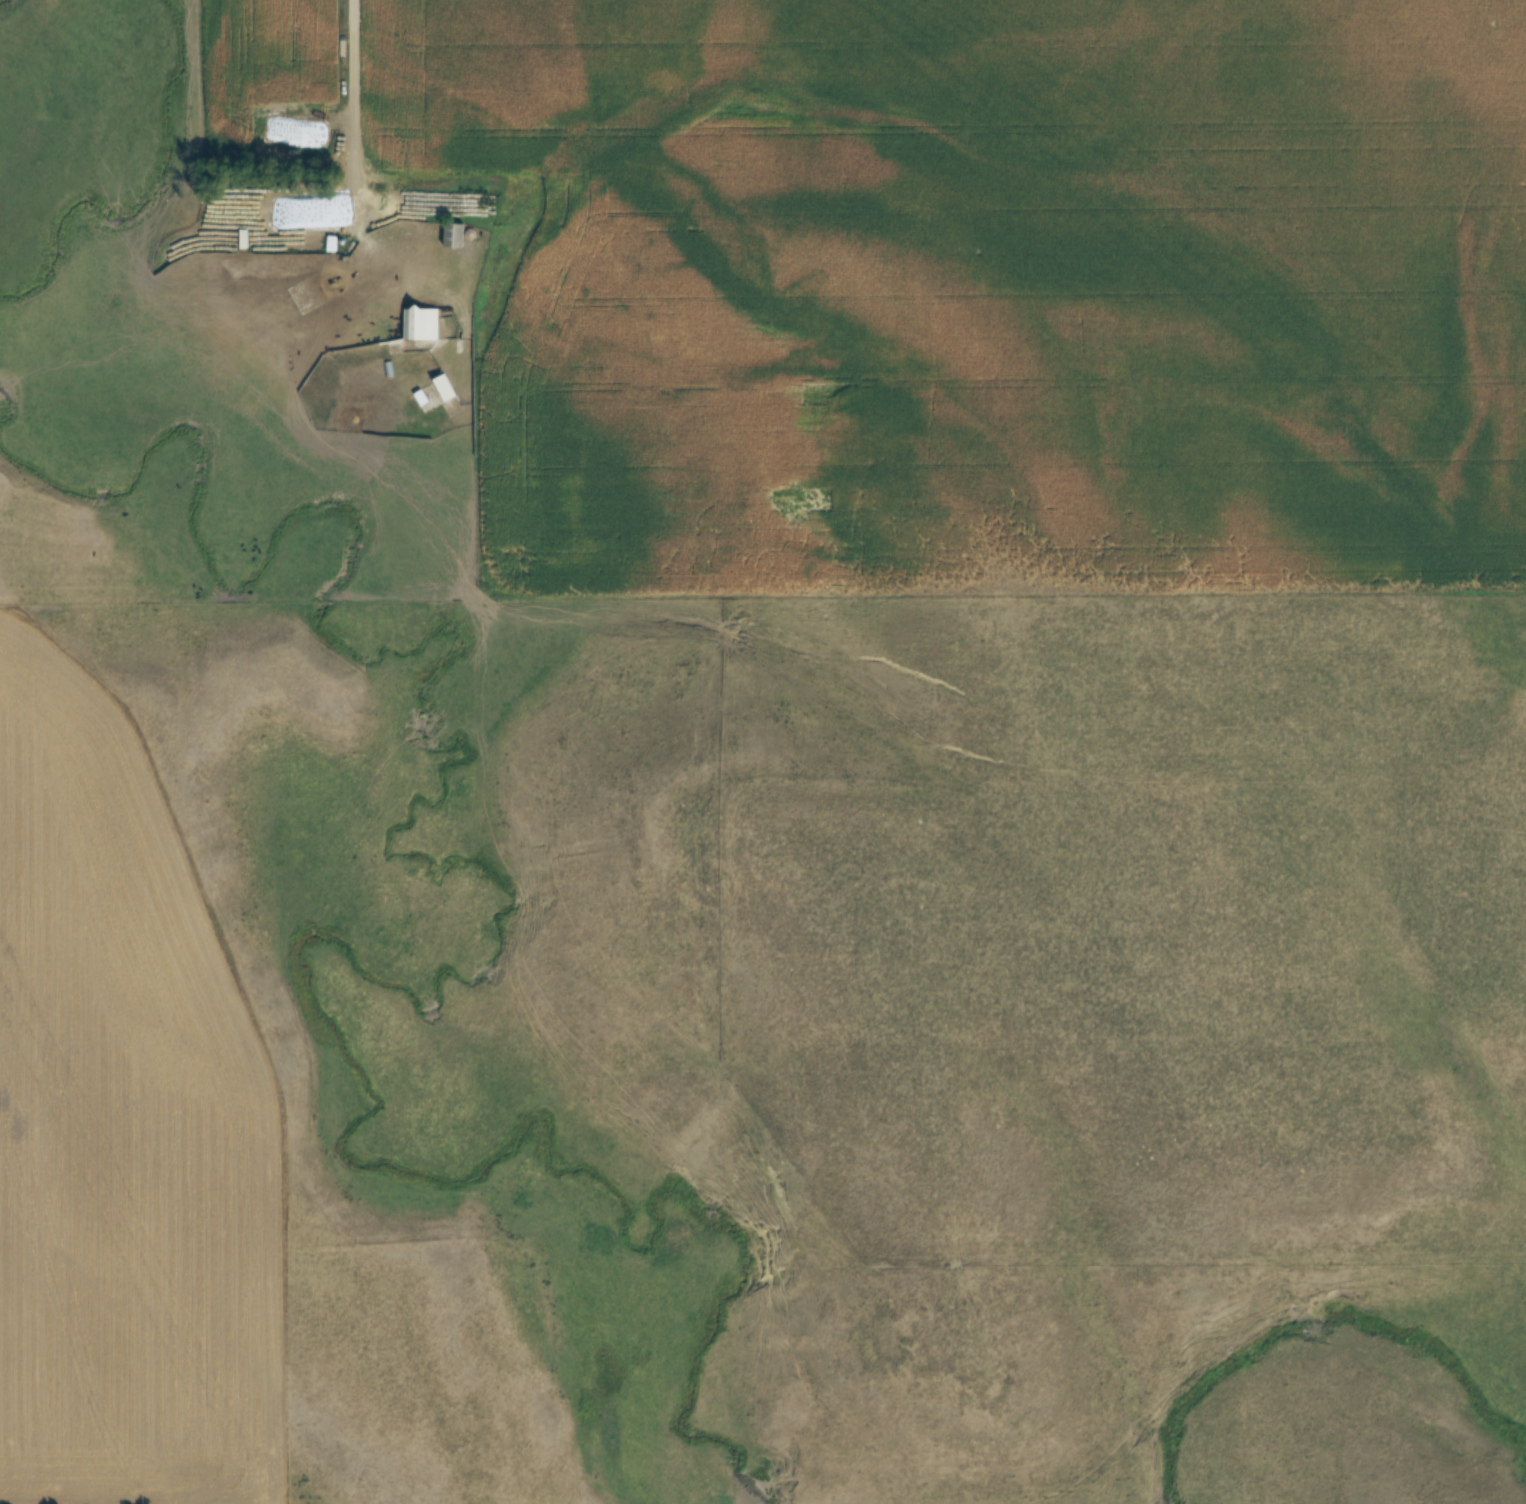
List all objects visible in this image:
road: (356, 176)
building: (454, 234)
building: (332, 243)
building: (417, 323)
building: (445, 389)

